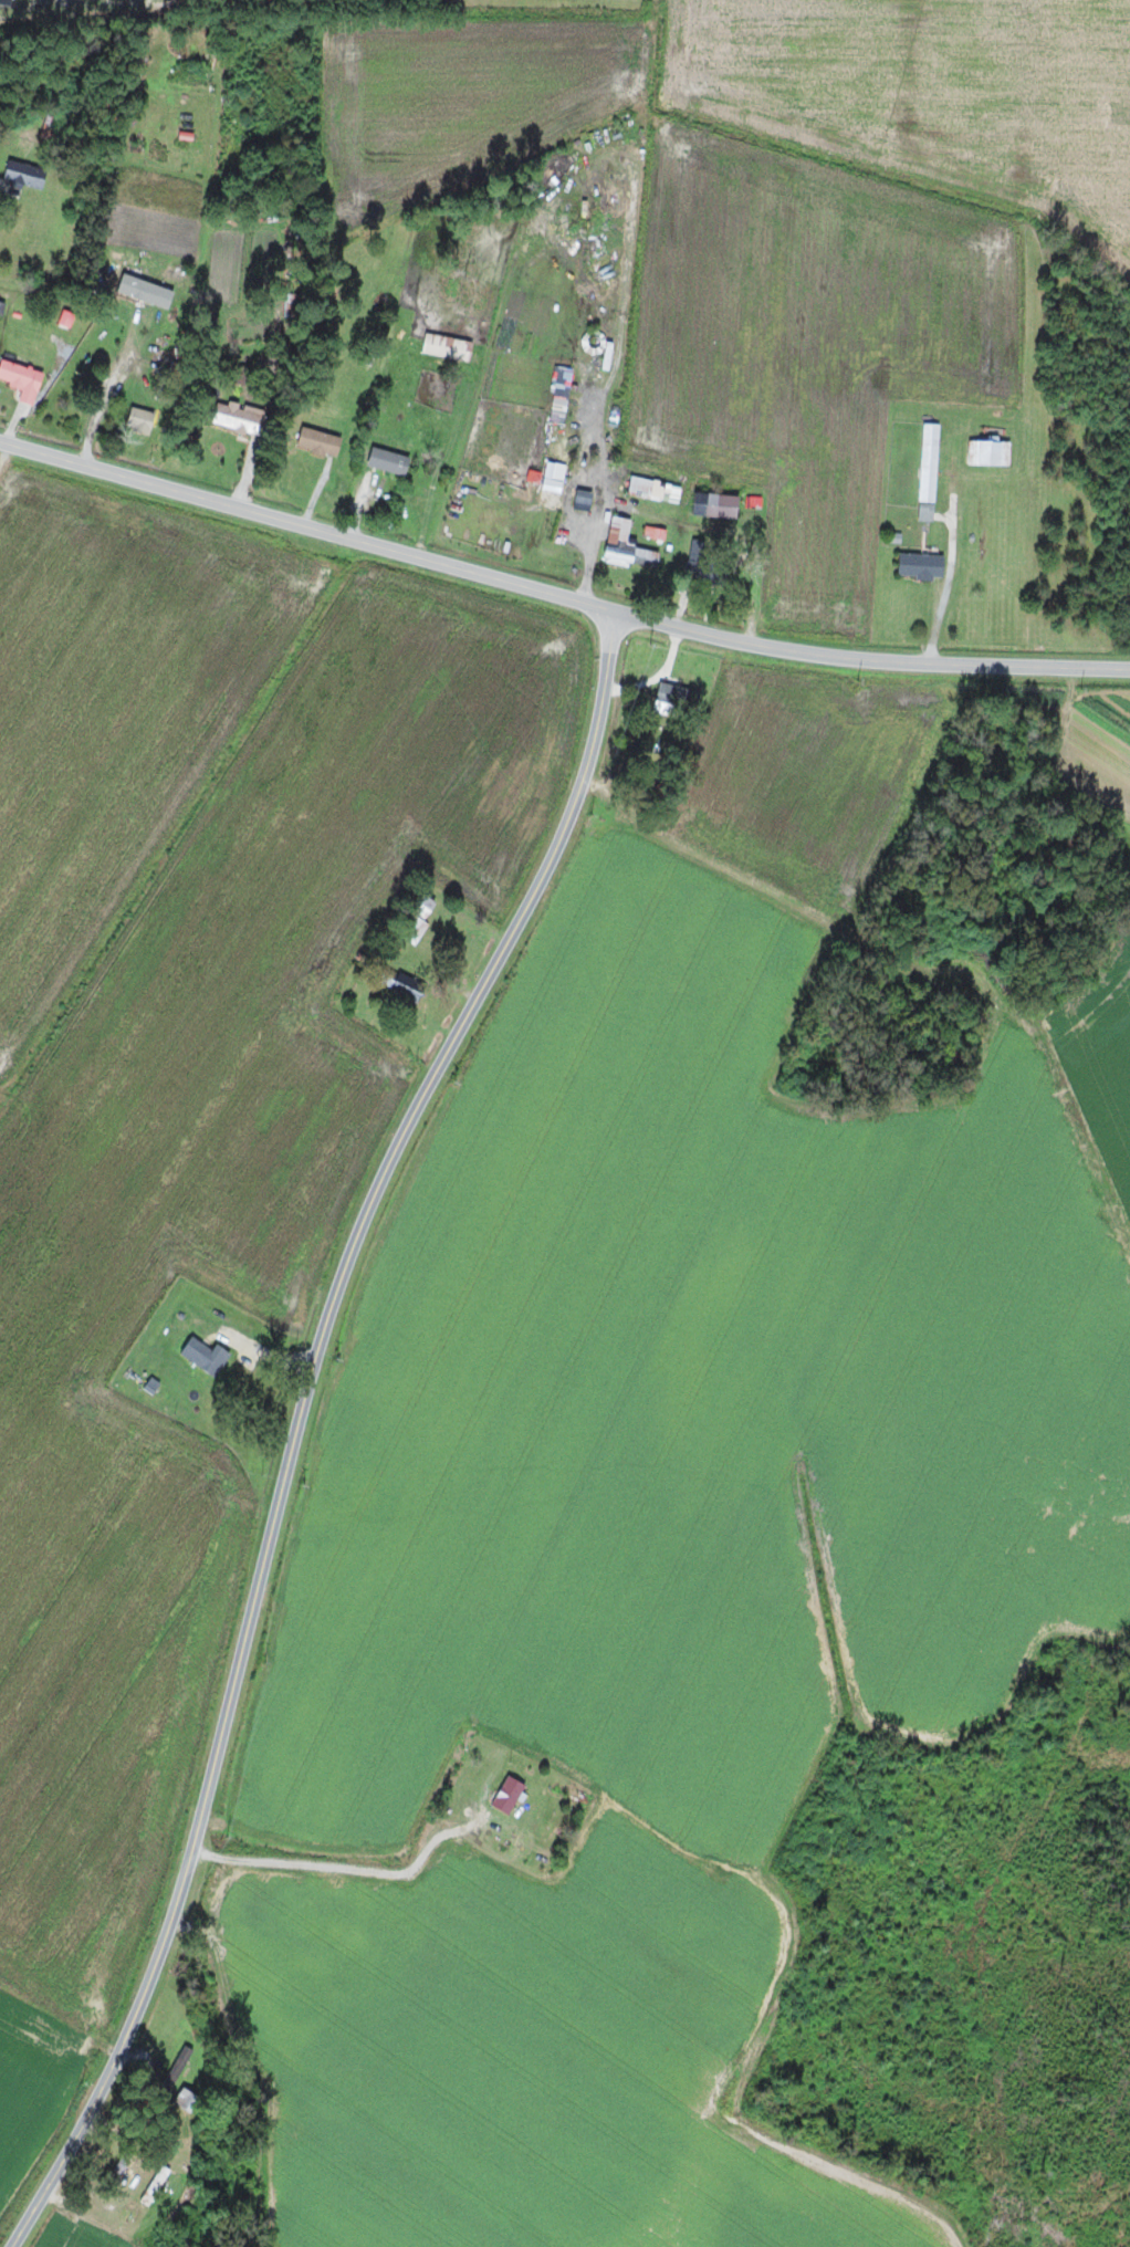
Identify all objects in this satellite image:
building: (25, 175)
building: (293, 304)
building: (66, 318)
building: (448, 346)
building: (22, 378)
building: (240, 417)
building: (140, 418)
building: (320, 440)
building: (583, 449)
building: (990, 451)
building: (389, 460)
building: (554, 471)
building: (929, 471)
building: (584, 499)
building: (718, 503)
building: (627, 545)
building: (697, 556)
building: (922, 565)
road: (558, 595)
building: (679, 696)
building: (417, 930)
building: (408, 987)
building: (206, 1355)
road: (287, 1412)
building: (509, 1795)
road: (269, 2090)

